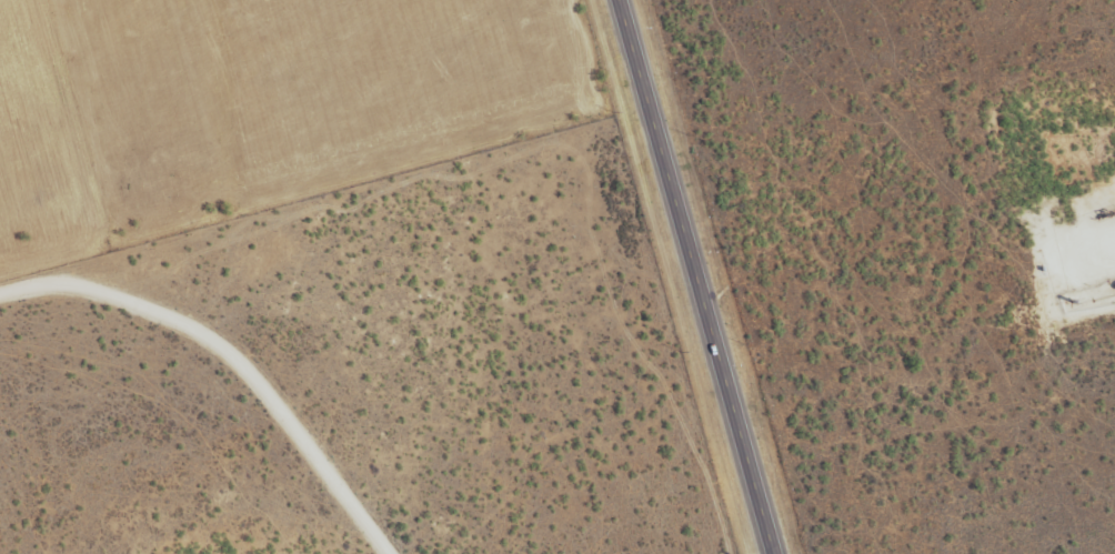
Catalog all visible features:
road: (699, 276)

